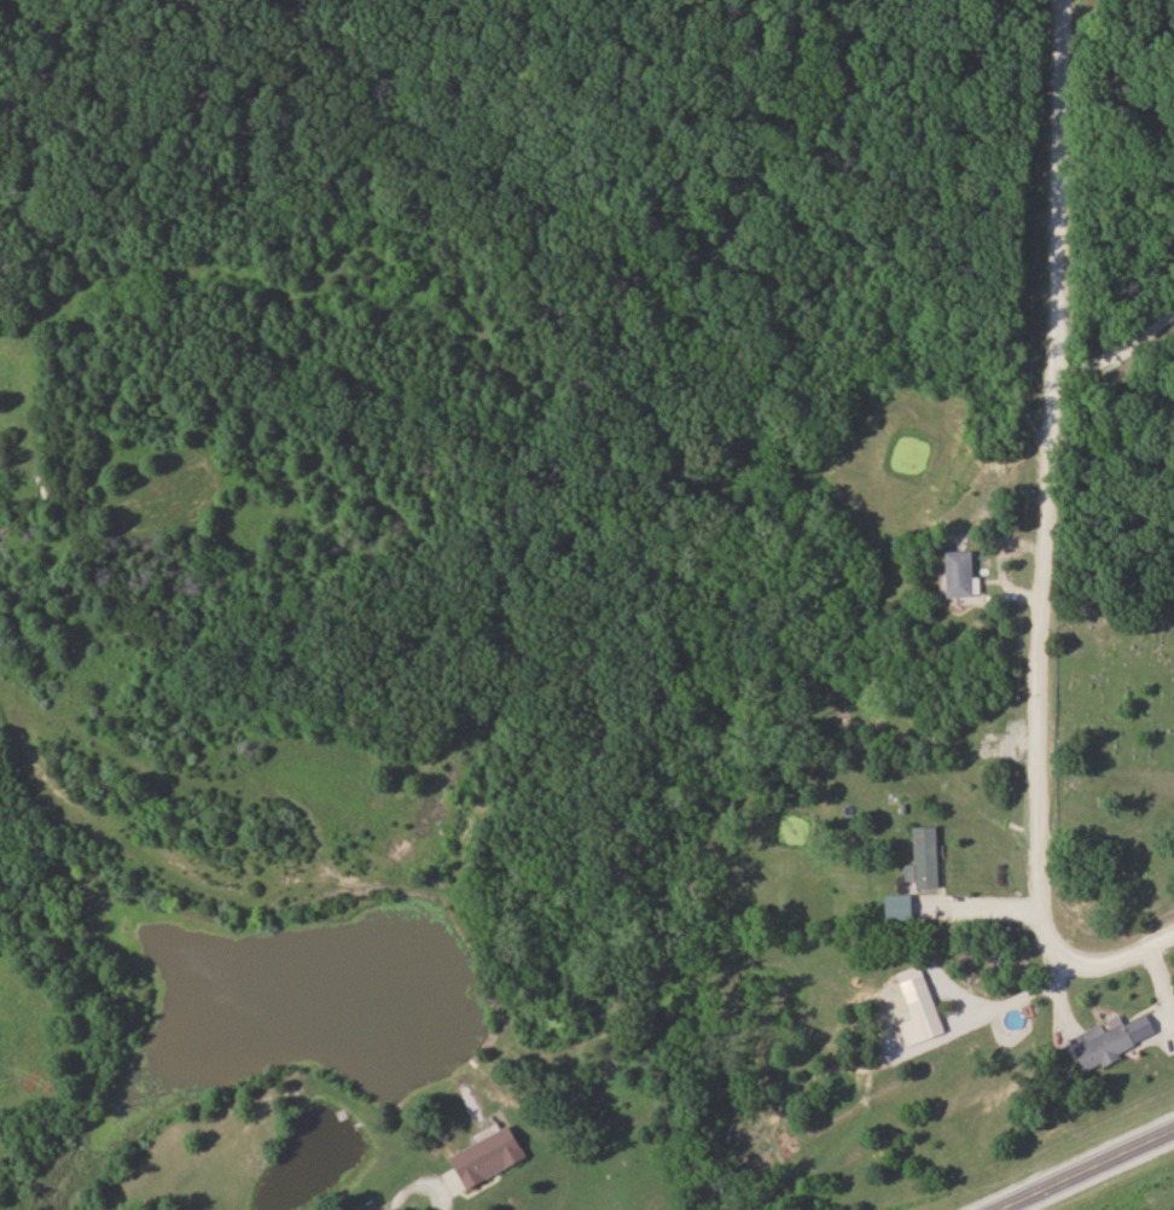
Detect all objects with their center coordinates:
road: (1057, 191)
road: (1114, 349)
building: (964, 572)
road: (1039, 731)
park: (1105, 774)
building: (928, 857)
building: (902, 907)
building: (966, 954)
building: (932, 1019)
building: (1108, 1045)
building: (492, 1156)
road: (1082, 1168)
road: (412, 1187)

